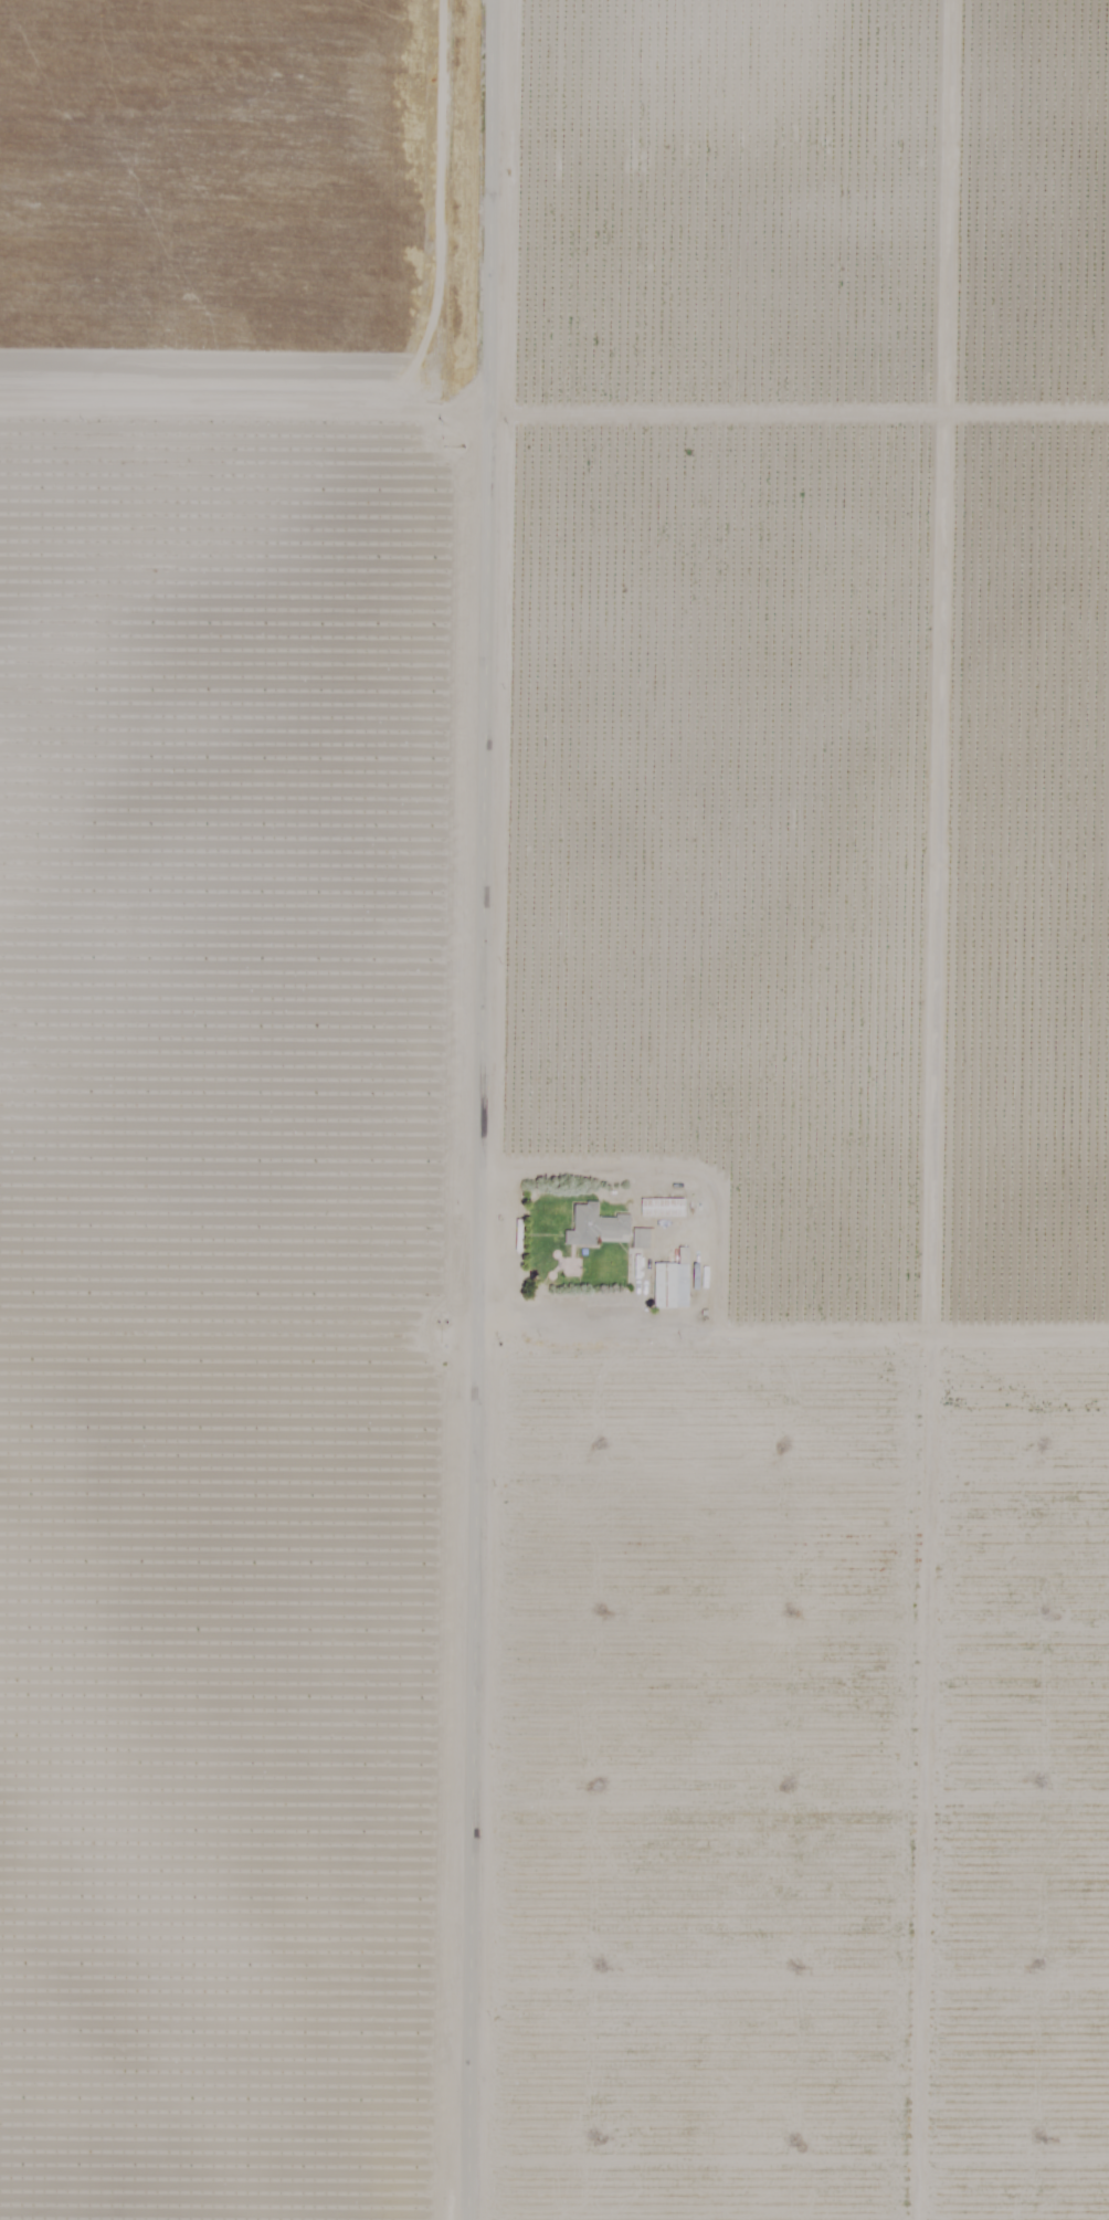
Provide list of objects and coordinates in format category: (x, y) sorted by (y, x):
crop: (245, 21)
crop: (240, 144)
road: (247, 394)
road: (482, 1109)
crop: (239, 1201)
building: (659, 1206)
building: (593, 1224)
building: (640, 1240)
building: (667, 1284)
road: (793, 1333)

